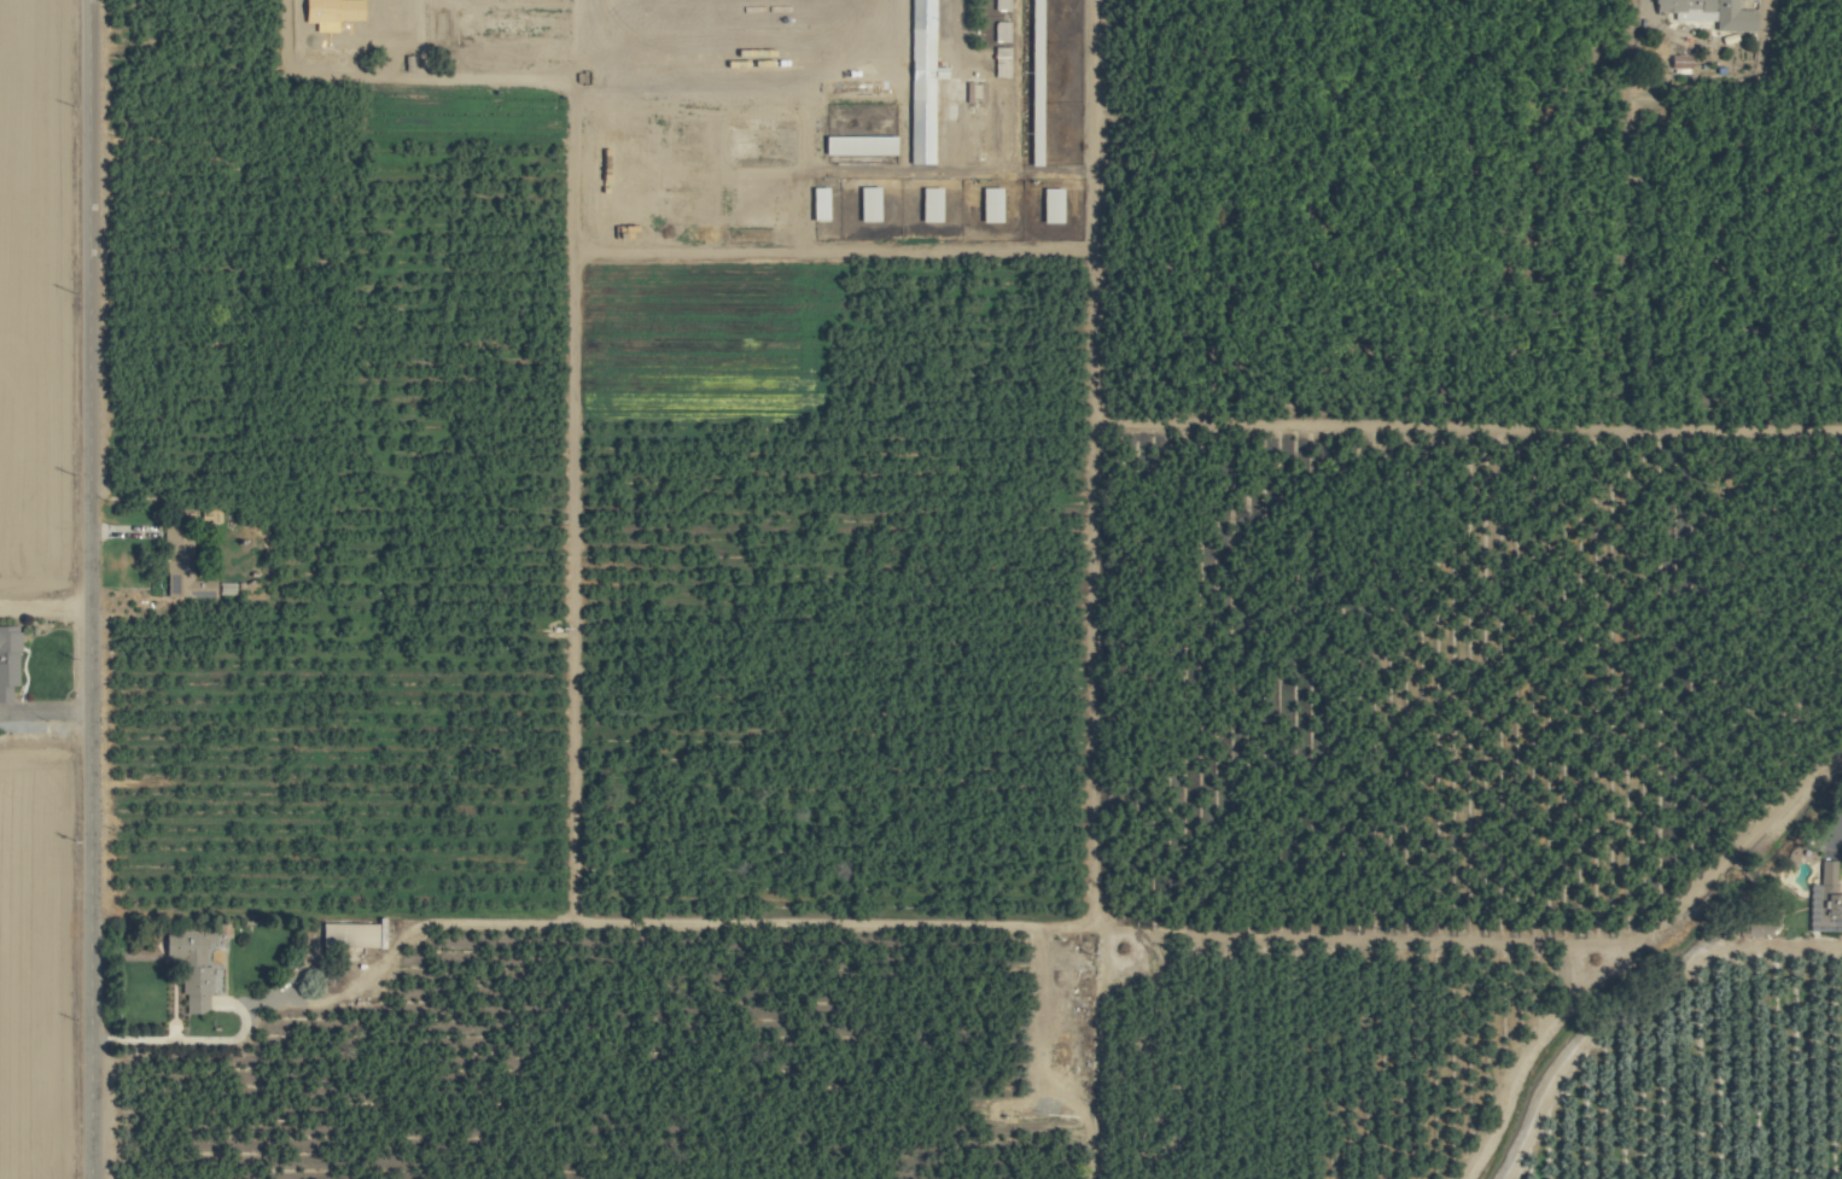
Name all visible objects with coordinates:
building: (999, 5)
building: (1685, 11)
building: (1730, 16)
building: (1032, 27)
building: (909, 76)
building: (856, 144)
building: (816, 203)
building: (864, 203)
building: (927, 203)
building: (987, 204)
building: (1049, 204)
building: (179, 564)
road: (94, 589)
crop: (921, 589)
road: (47, 714)
road: (1841, 840)
building: (1823, 900)
road: (531, 918)
building: (348, 934)
building: (190, 965)

